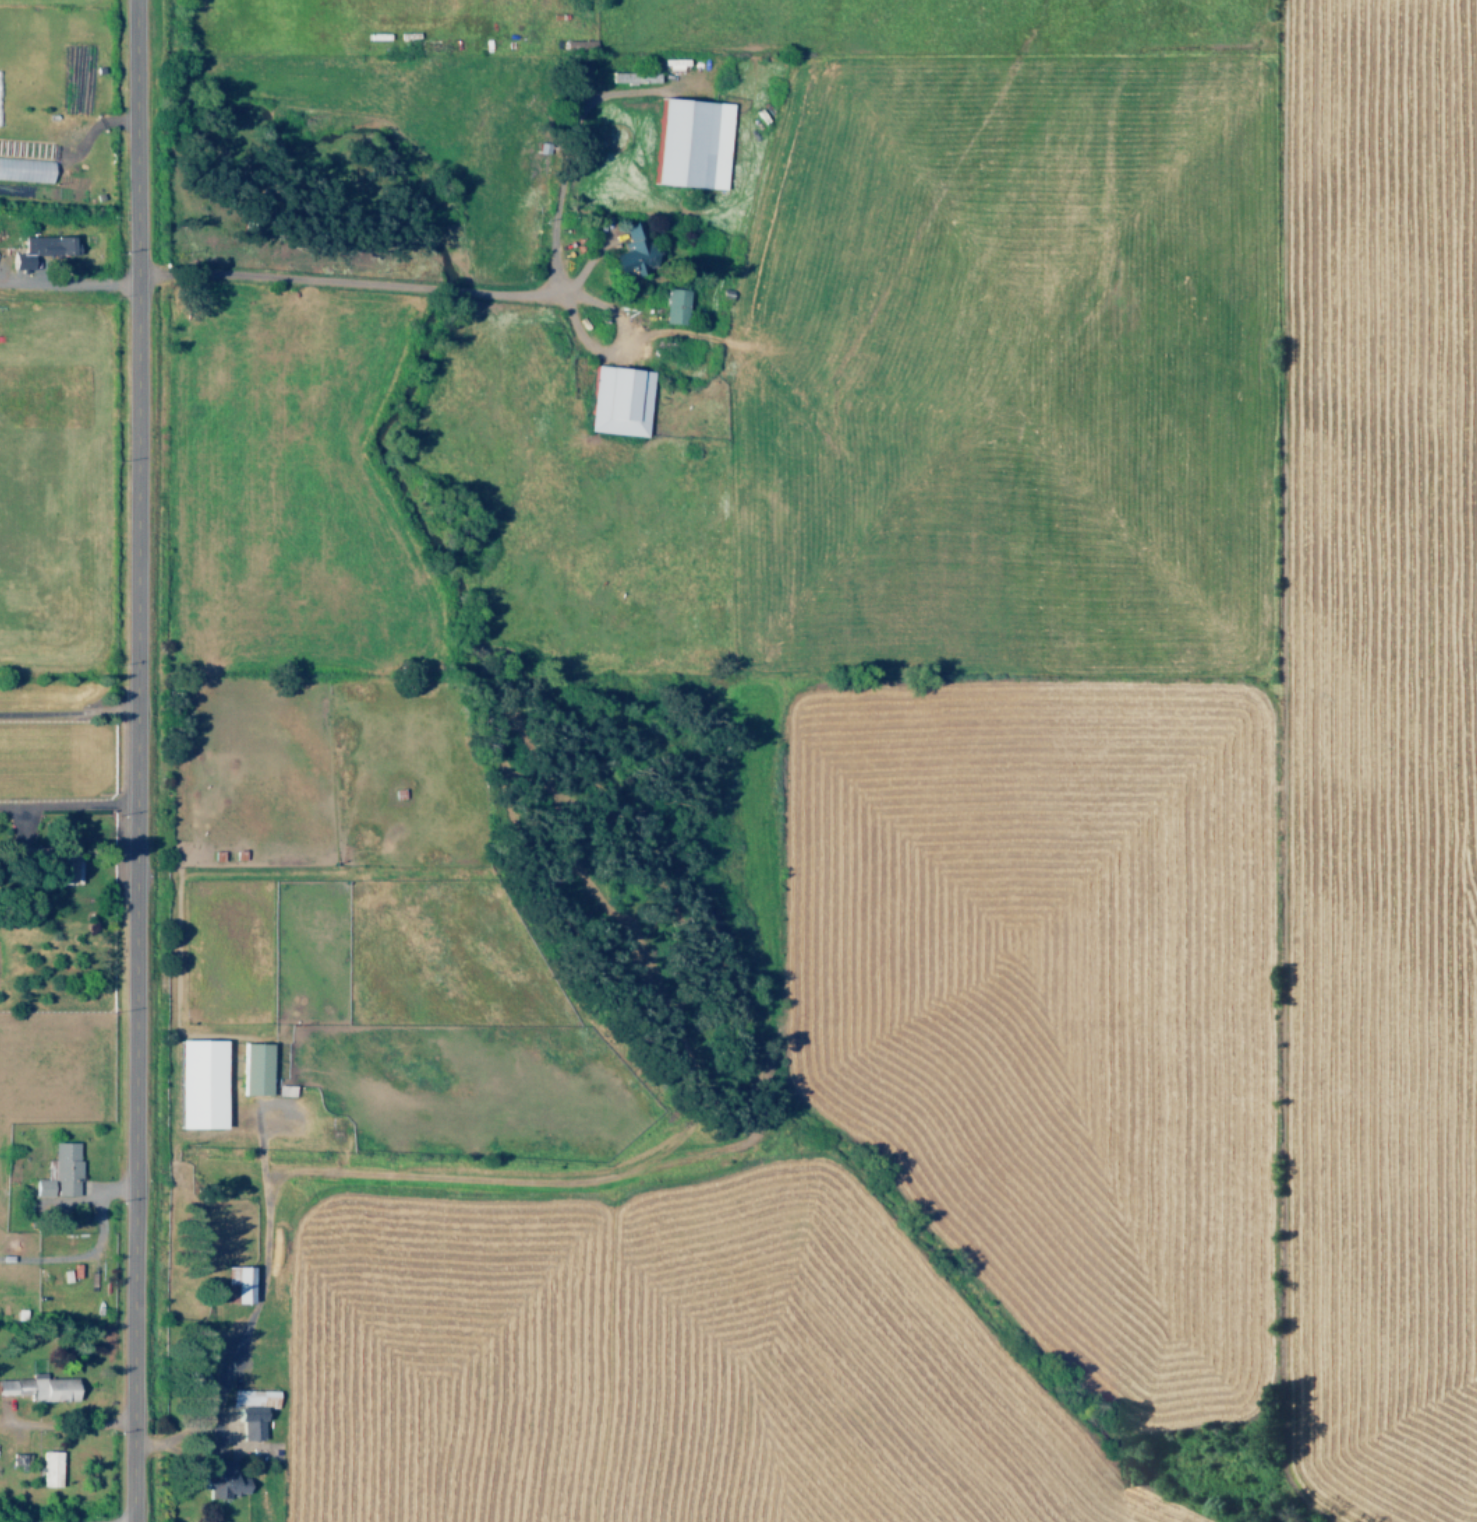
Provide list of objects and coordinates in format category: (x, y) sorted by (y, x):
road: (564, 143)
building: (696, 144)
building: (26, 169)
building: (636, 249)
building: (40, 250)
road: (68, 283)
road: (382, 287)
building: (677, 307)
road: (618, 350)
building: (622, 401)
road: (67, 712)
road: (135, 760)
road: (67, 805)
road: (22, 827)
crop: (1039, 835)
building: (63, 865)
building: (255, 1068)
building: (200, 1084)
building: (60, 1171)
road: (92, 1248)
road: (264, 1266)
building: (242, 1283)
building: (42, 1387)
building: (251, 1410)
road: (58, 1425)
road: (217, 1429)
building: (50, 1468)
building: (221, 1481)

